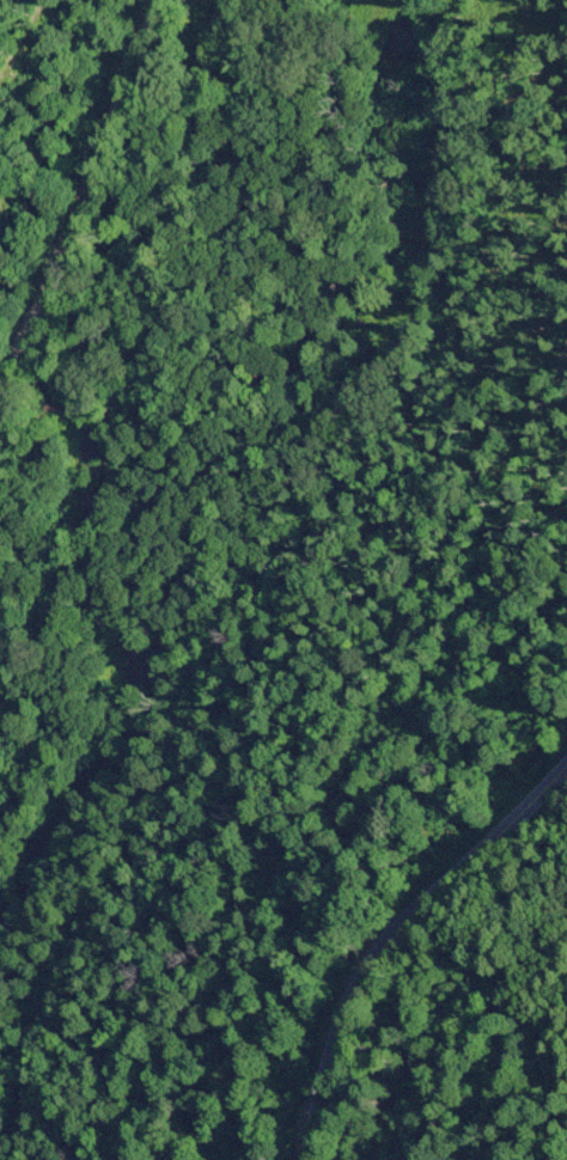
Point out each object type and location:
road: (83, 183)
road: (383, 928)

